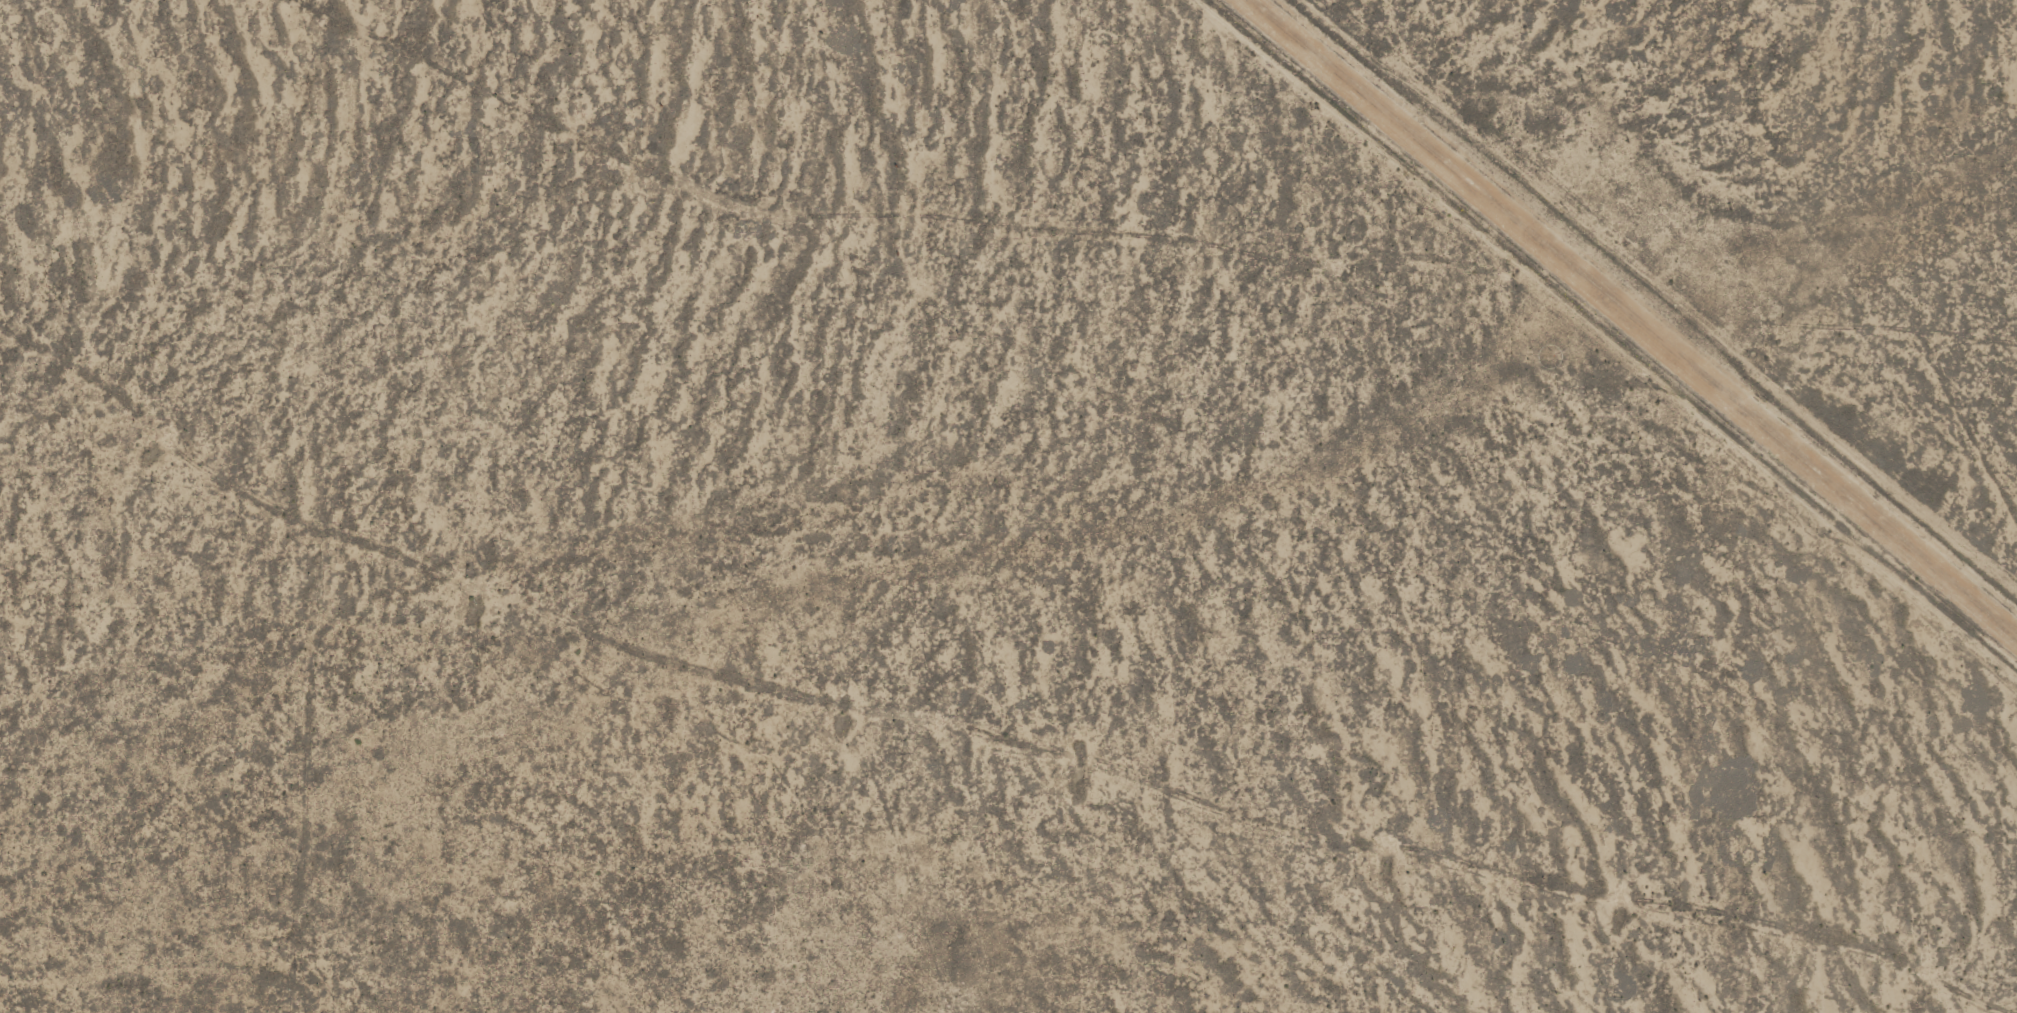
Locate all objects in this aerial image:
road: (1123, 265)
airport runway: (1636, 315)
road: (969, 765)

